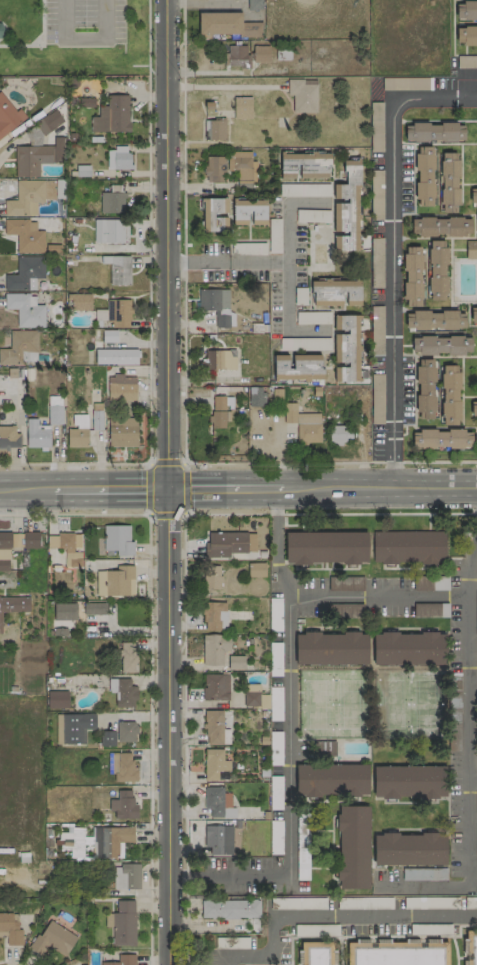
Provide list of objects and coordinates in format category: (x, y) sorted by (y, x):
road: (148, 1)
building: (465, 10)
building: (226, 24)
building: (466, 36)
park: (72, 37)
road: (84, 37)
road: (148, 43)
building: (260, 54)
building: (237, 56)
building: (467, 61)
building: (302, 95)
building: (242, 108)
building: (112, 115)
building: (9, 116)
building: (49, 122)
building: (214, 129)
building: (434, 132)
road: (183, 142)
building: (36, 157)
building: (117, 158)
building: (304, 165)
building: (241, 166)
building: (214, 169)
building: (424, 176)
building: (473, 195)
building: (29, 197)
building: (111, 202)
building: (346, 209)
building: (248, 212)
building: (215, 215)
building: (476, 220)
building: (440, 226)
building: (110, 231)
building: (25, 235)
road: (165, 244)
road: (285, 247)
building: (471, 249)
road: (392, 255)
road: (196, 261)
building: (118, 269)
building: (436, 270)
building: (25, 273)
road: (149, 274)
building: (412, 276)
building: (335, 293)
building: (80, 302)
building: (216, 306)
building: (25, 310)
road: (285, 310)
building: (118, 313)
building: (473, 314)
building: (433, 320)
building: (441, 345)
building: (18, 346)
building: (346, 348)
building: (115, 357)
building: (219, 360)
building: (297, 367)
road: (183, 373)
building: (121, 388)
building: (424, 388)
building: (449, 394)
building: (255, 396)
building: (473, 408)
building: (54, 412)
building: (219, 412)
building: (96, 419)
building: (303, 424)
building: (122, 431)
building: (476, 432)
building: (36, 435)
building: (337, 435)
building: (77, 437)
building: (9, 438)
building: (440, 439)
road: (329, 461)
road: (73, 463)
road: (224, 488)
road: (379, 488)
road: (27, 489)
road: (110, 489)
traffic signals: (167, 489)
road: (276, 509)
road: (167, 511)
road: (146, 516)
road: (473, 522)
building: (117, 541)
building: (15, 544)
building: (229, 544)
building: (325, 547)
building: (407, 547)
building: (65, 548)
building: (256, 570)
building: (211, 577)
building: (115, 582)
road: (377, 596)
building: (13, 605)
building: (94, 608)
building: (63, 613)
building: (214, 616)
building: (331, 648)
building: (407, 648)
building: (214, 649)
building: (127, 657)
building: (235, 662)
road: (473, 685)
building: (215, 687)
building: (122, 692)
building: (57, 699)
building: (73, 727)
building: (214, 728)
building: (126, 732)
building: (107, 738)
road: (184, 740)
road: (287, 741)
building: (326, 748)
road: (167, 749)
building: (214, 764)
road: (469, 766)
building: (121, 767)
building: (331, 780)
building: (409, 781)
road: (473, 782)
building: (218, 803)
building: (123, 805)
building: (218, 839)
building: (110, 841)
building: (73, 842)
building: (352, 847)
building: (409, 849)
road: (185, 876)
building: (126, 877)
building: (230, 908)
road: (374, 917)
road: (185, 922)
road: (220, 922)
building: (122, 923)
building: (10, 929)
building: (52, 939)
building: (471, 948)
building: (317, 953)
building: (398, 953)
road: (260, 954)
building: (122, 960)

